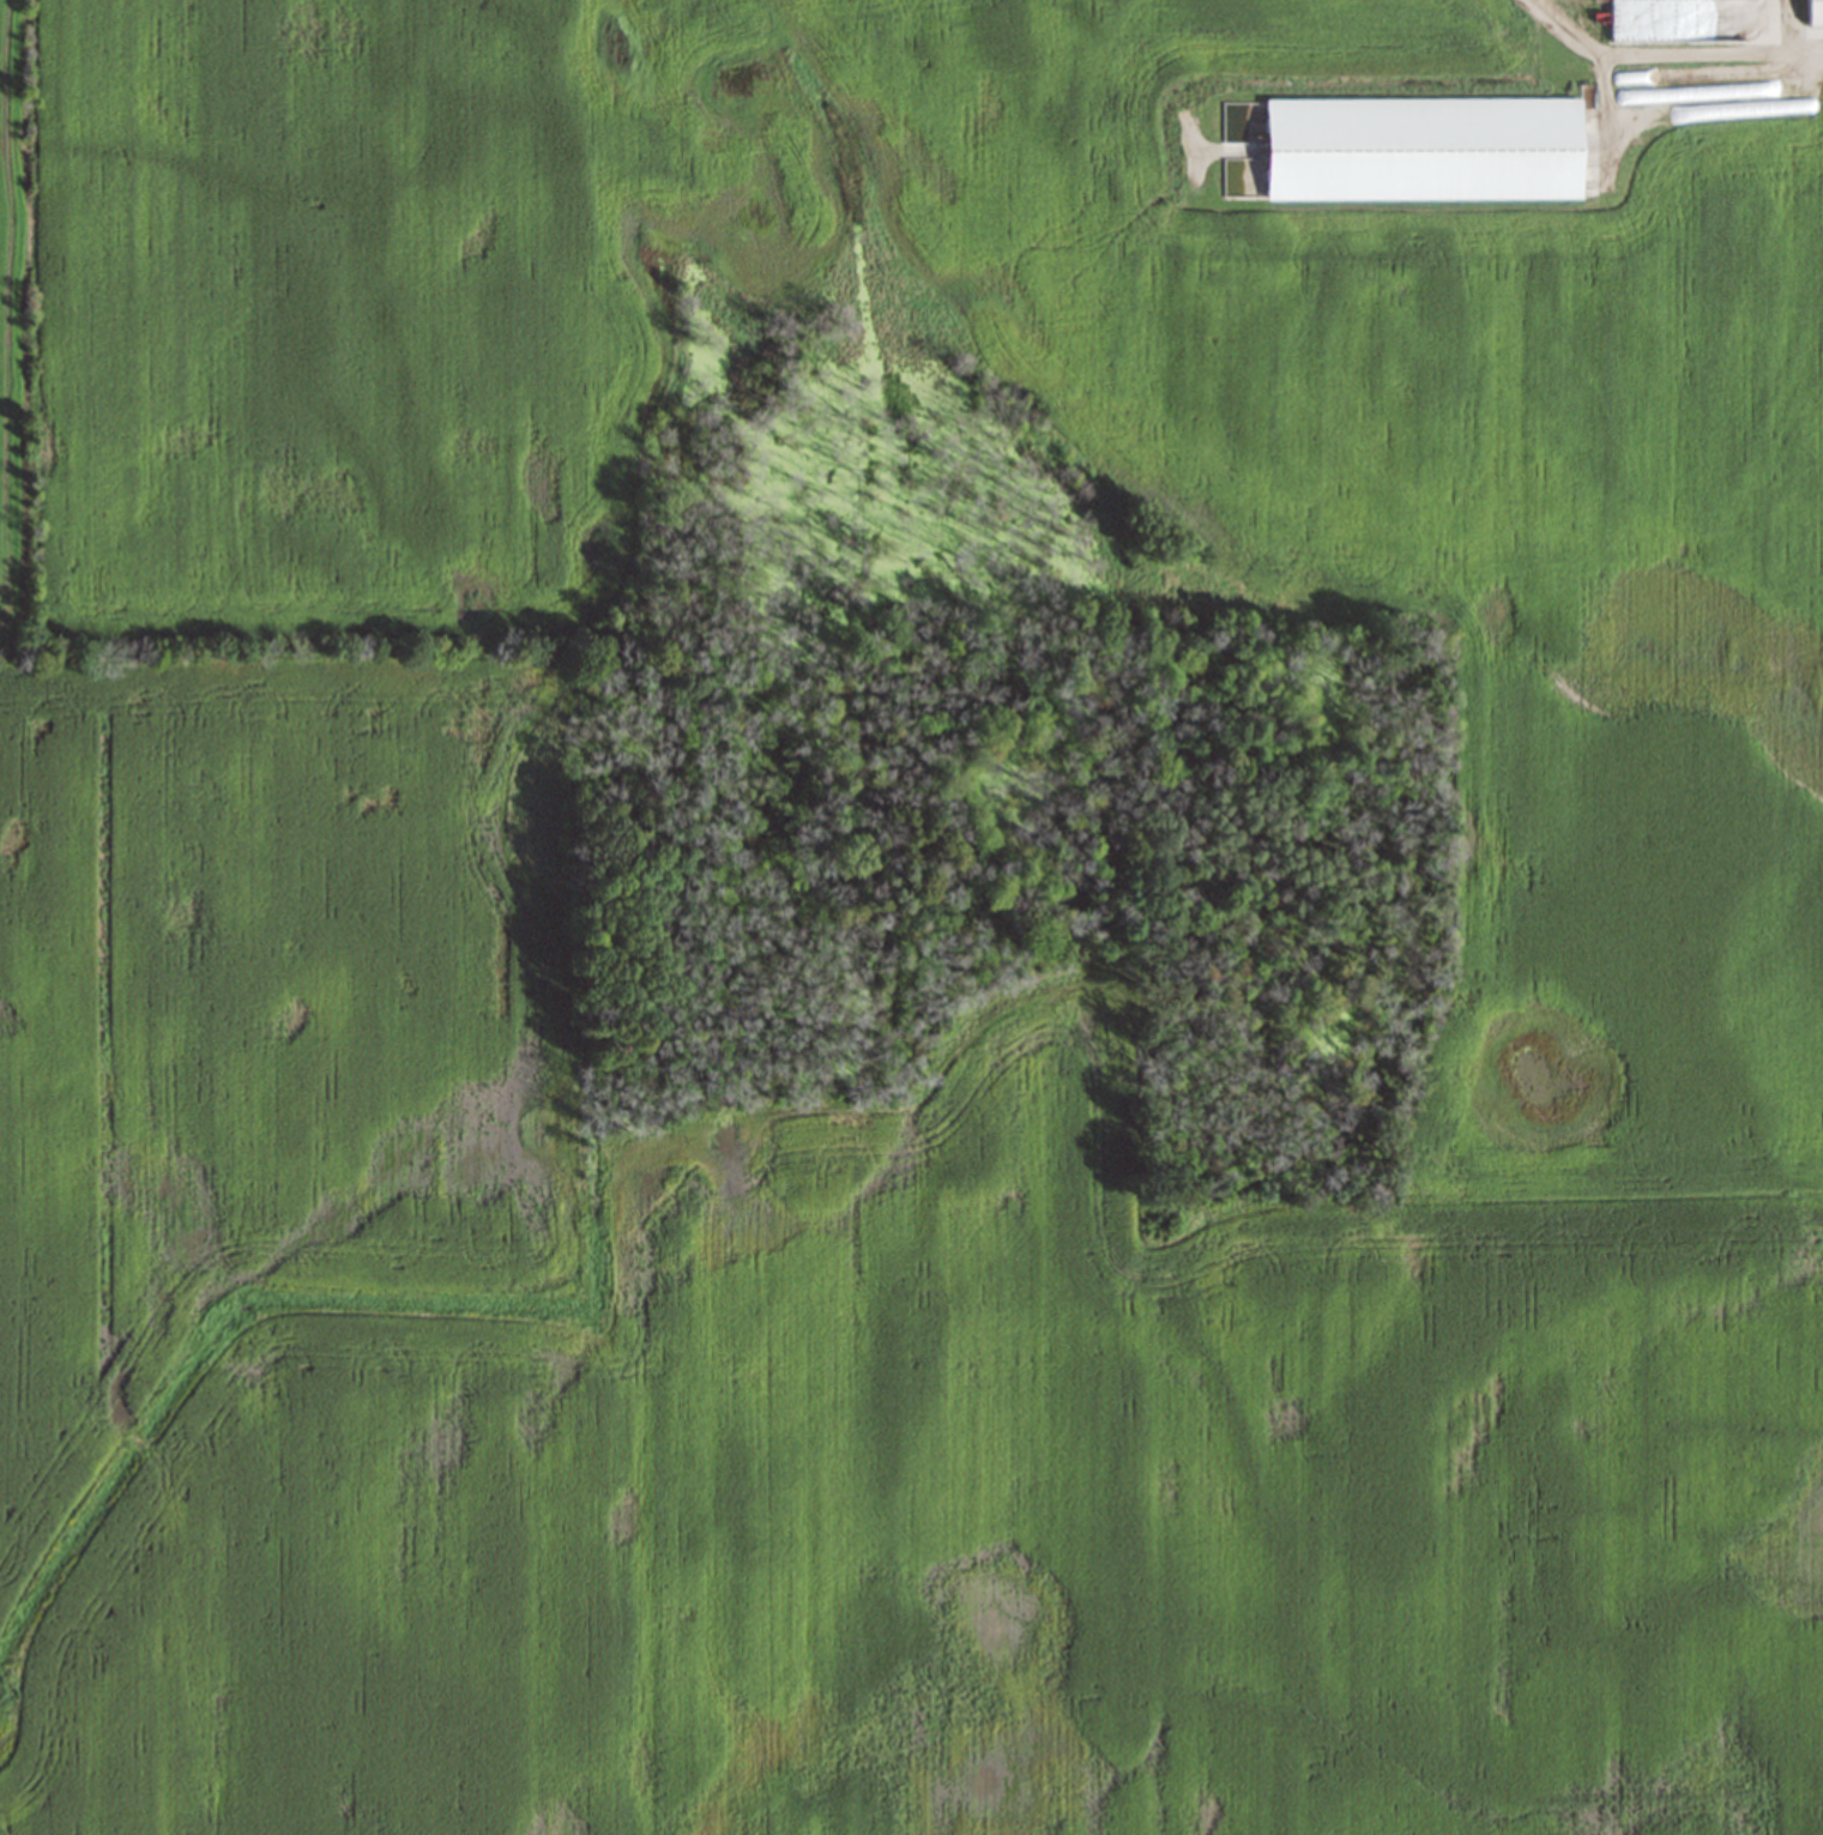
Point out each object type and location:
building: (1815, 13)
building: (1649, 20)
road: (1737, 80)

